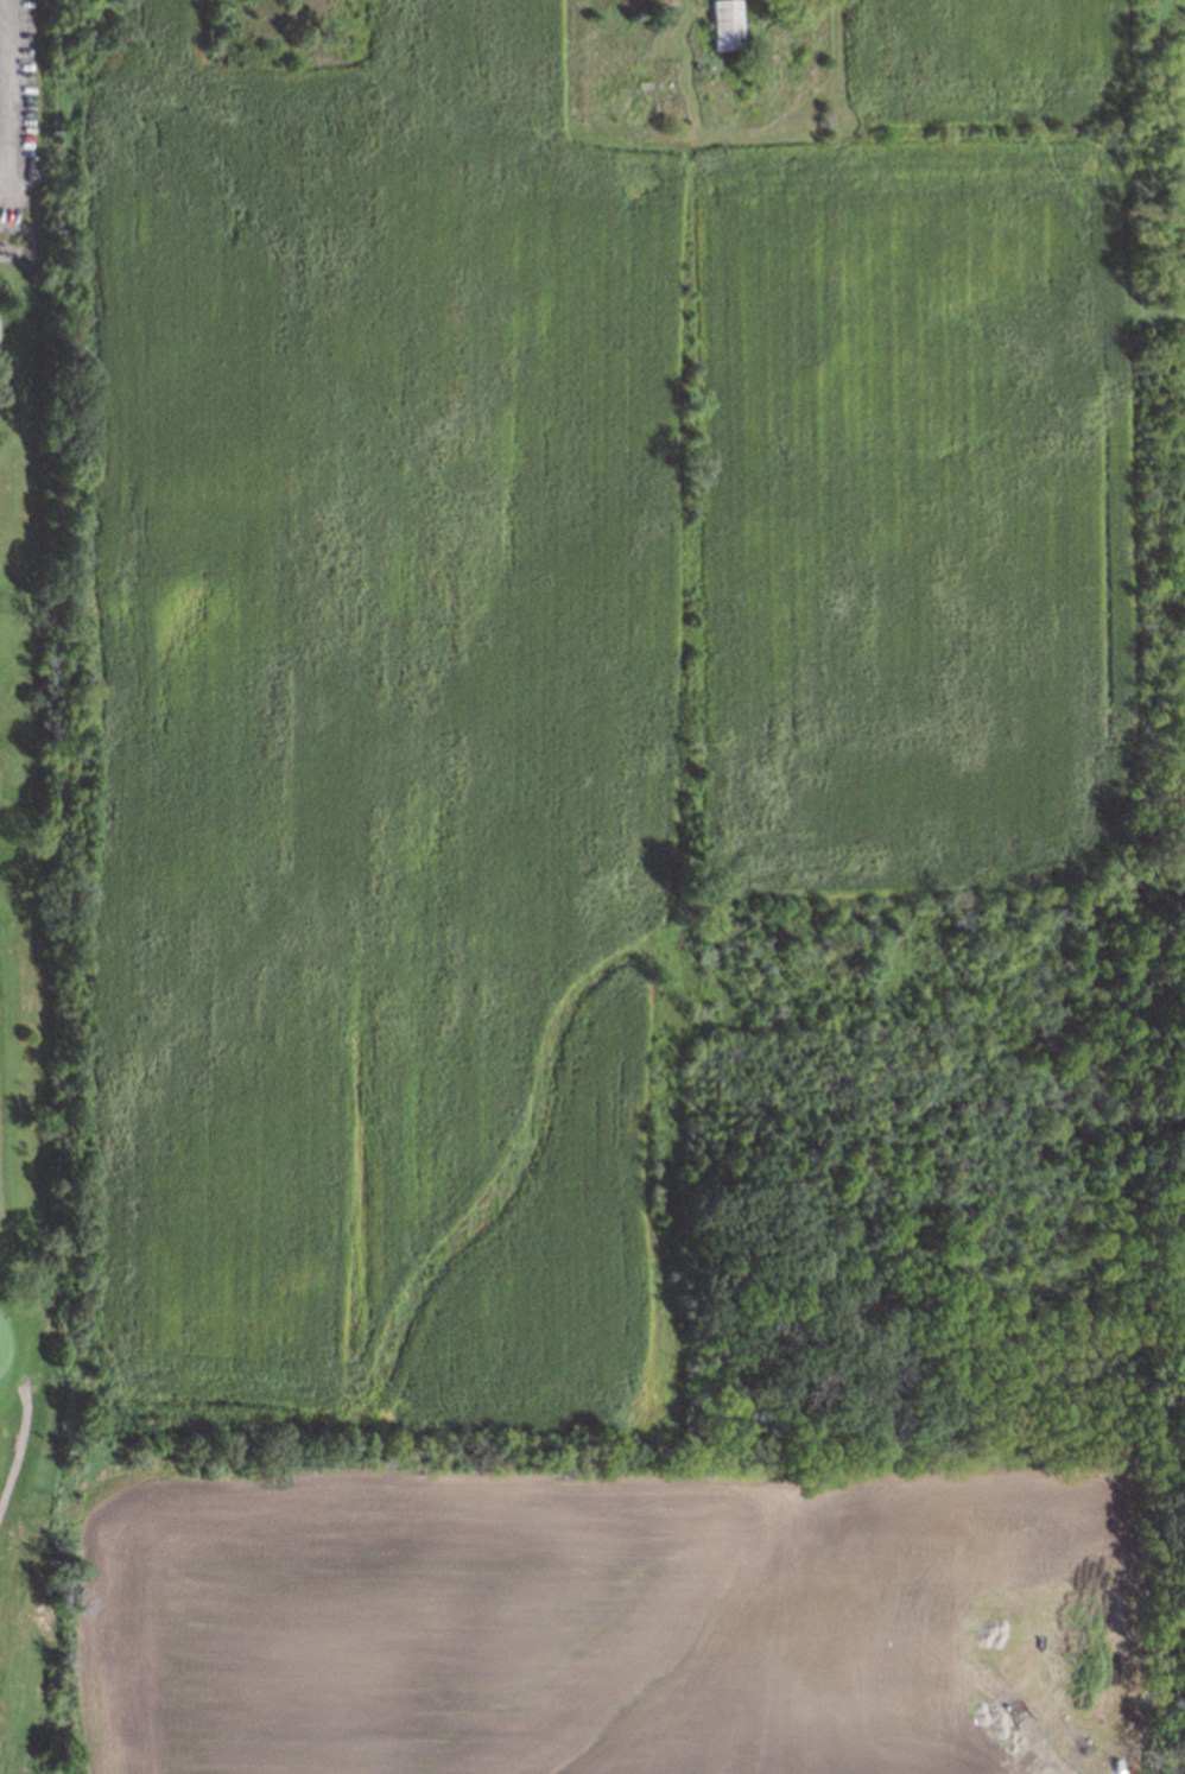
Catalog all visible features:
building: (721, 24)
road: (4, 95)
parking lot: (0, 180)
park: (42, 893)
road: (20, 1447)

